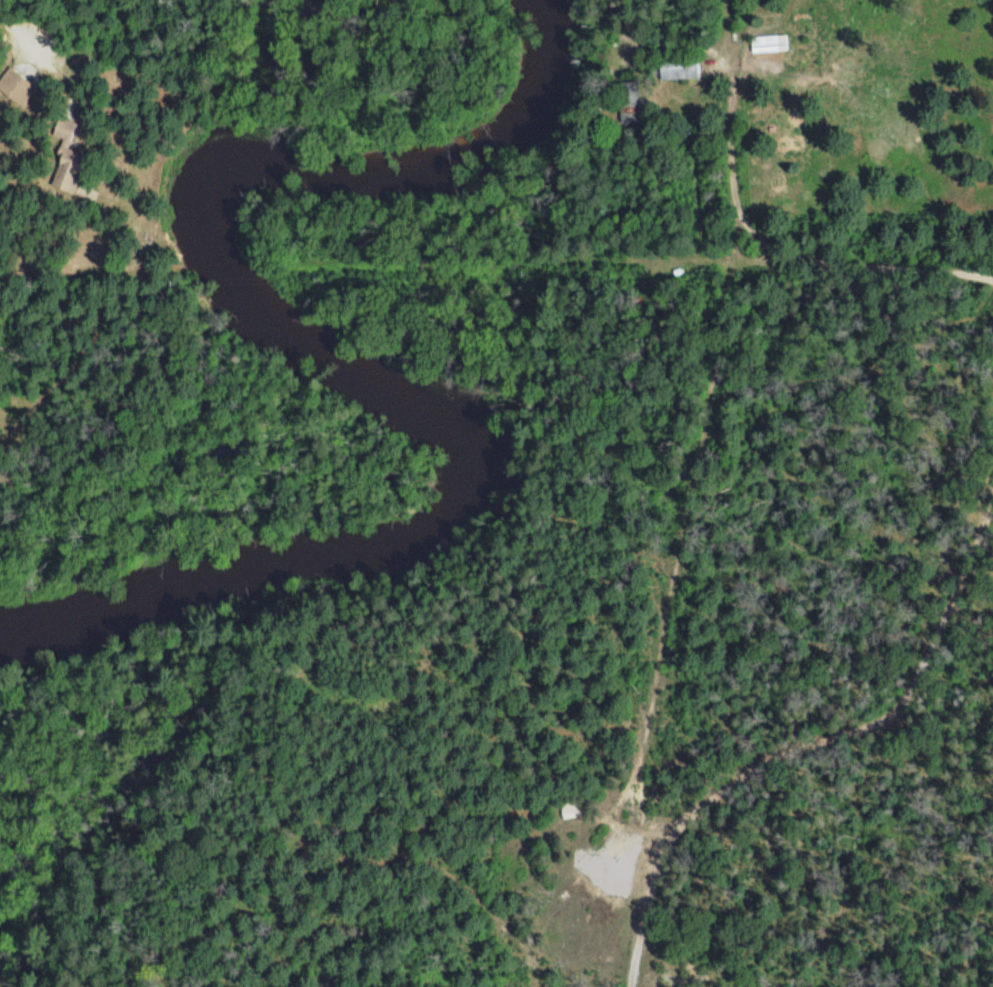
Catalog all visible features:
building: (768, 42)
building: (677, 66)
building: (13, 86)
building: (627, 102)
building: (67, 163)
road: (732, 246)
road: (43, 273)
river: (332, 363)
road: (850, 706)
building: (568, 808)

